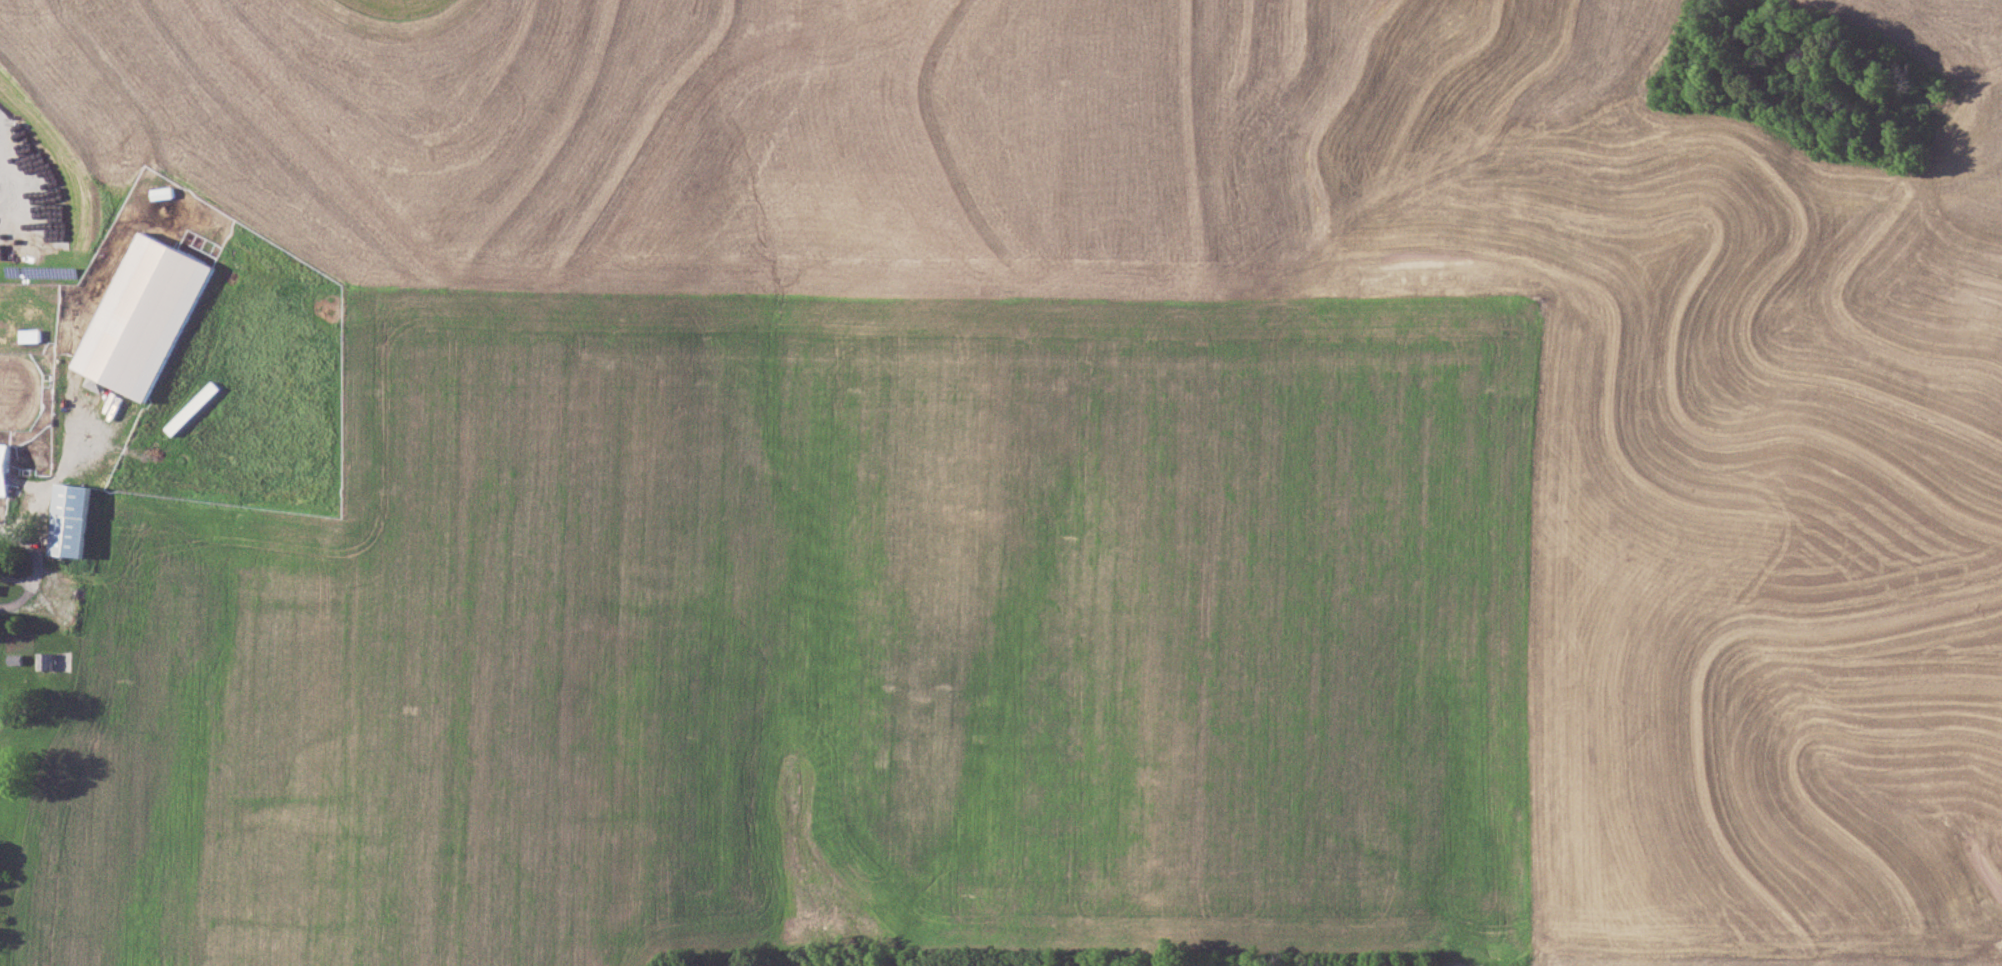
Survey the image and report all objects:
building: (144, 317)
building: (189, 410)
building: (73, 517)
road: (39, 560)
building: (46, 659)
road: (1, 714)

